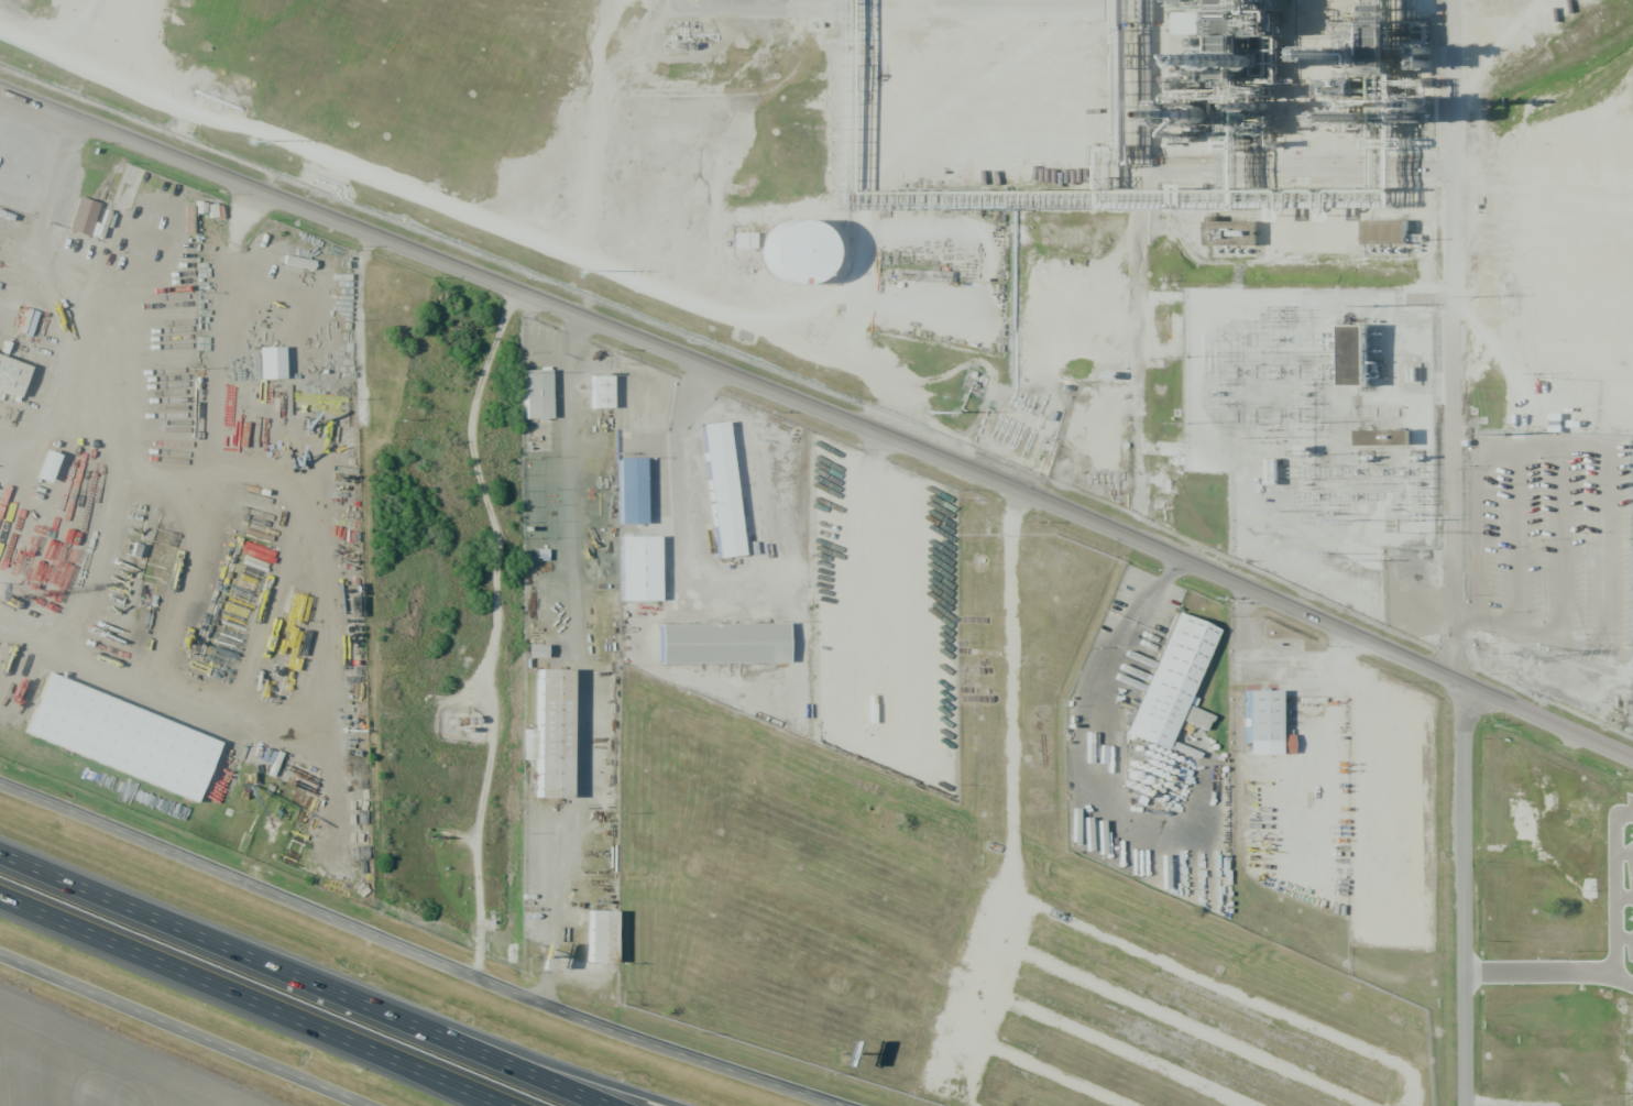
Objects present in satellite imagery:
building: (1235, 30)
road: (1483, 37)
power tower: (252, 141)
building: (86, 219)
building: (1384, 232)
building: (742, 240)
building: (813, 265)
storage tank: (813, 265)
power tower: (581, 270)
power tower: (1472, 295)
power tower: (1373, 305)
power tower: (1278, 313)
road: (1449, 338)
building: (1356, 355)
building: (276, 368)
building: (14, 379)
building: (609, 396)
building: (542, 397)
road: (823, 401)
power tower: (930, 413)
power substation: (1312, 428)
power tower: (1501, 434)
building: (1381, 436)
power tower: (1259, 437)
building: (46, 466)
building: (726, 492)
building: (636, 495)
power tower: (1248, 511)
power tower: (1327, 513)
power tower: (1416, 517)
power tower: (1315, 519)
power tower: (1415, 532)
power tower: (1294, 552)
power tower: (1335, 560)
building: (646, 573)
road: (491, 621)
road: (1127, 624)
building: (730, 647)
building: (535, 650)
power tower: (1536, 654)
building: (1175, 686)
building: (1269, 727)
building: (561, 740)
building: (129, 741)
road: (1462, 894)
road: (1618, 897)
building: (609, 942)
road: (419, 950)
road: (1542, 972)
road: (314, 976)
road: (254, 1000)
road: (184, 1025)
crop: (101, 1064)
road: (425, 1076)
road: (601, 1088)

